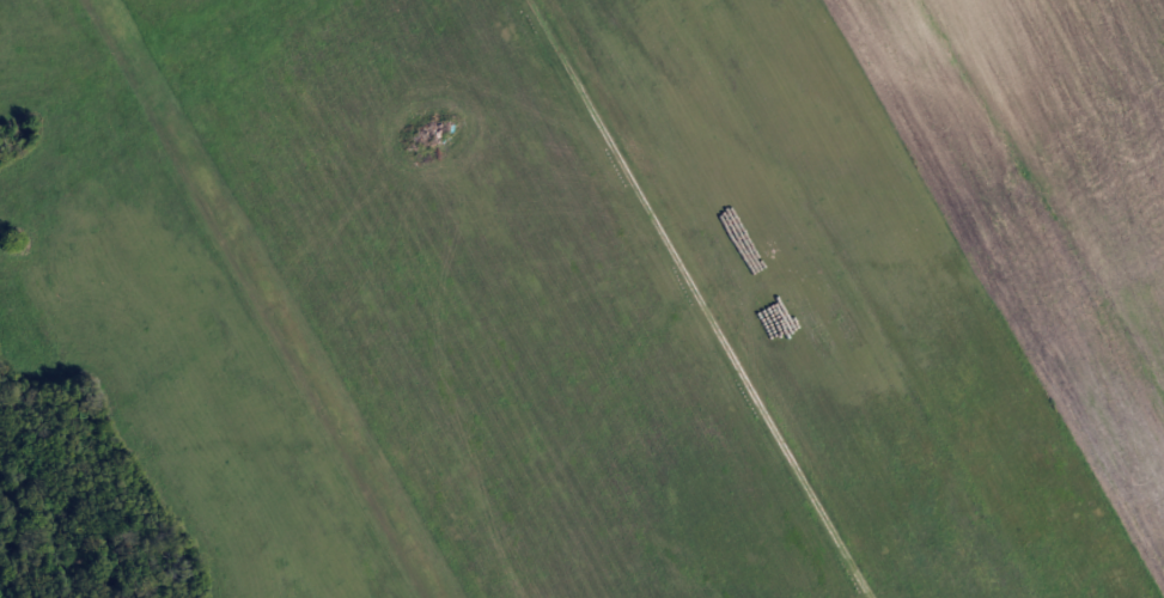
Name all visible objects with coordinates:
road: (700, 298)

